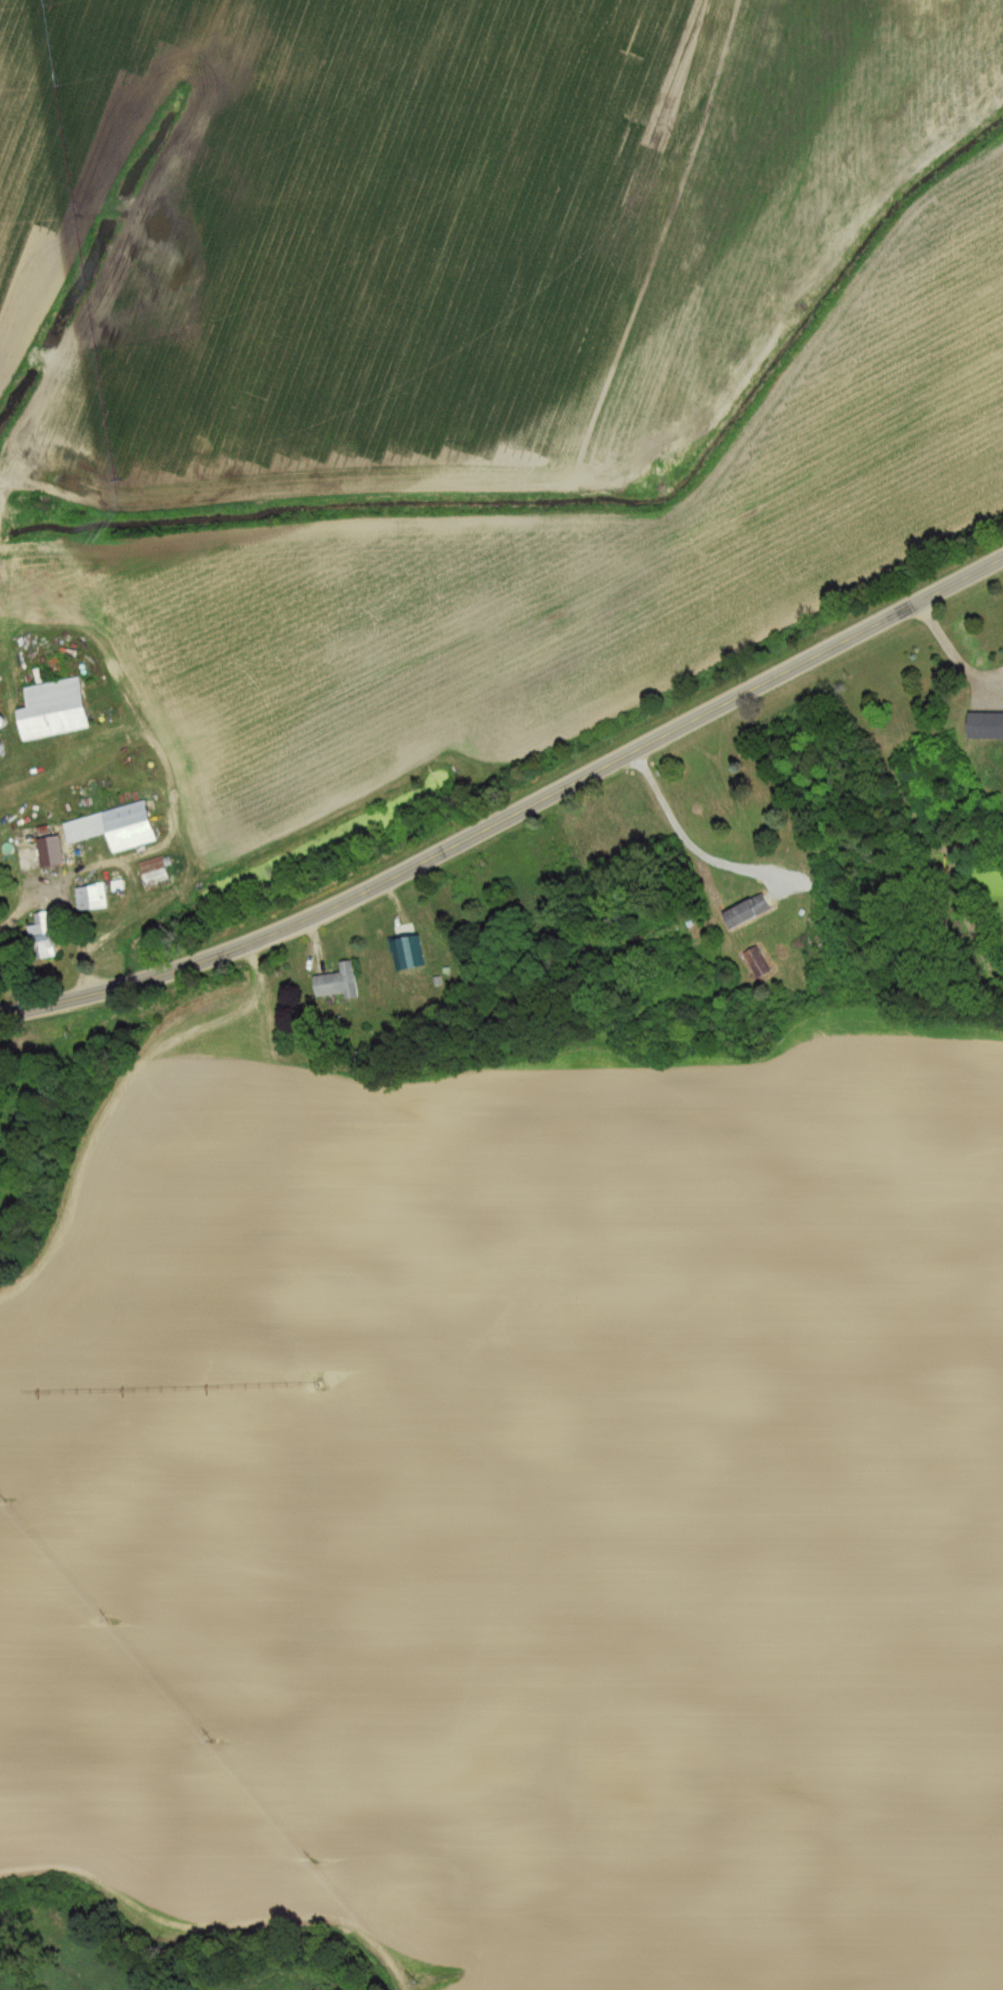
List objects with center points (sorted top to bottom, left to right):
building: (2, 686)
building: (48, 711)
building: (0, 749)
road: (511, 816)
building: (110, 829)
road: (683, 842)
building: (50, 854)
road: (125, 867)
building: (151, 873)
building: (88, 899)
building: (743, 913)
building: (35, 943)
building: (397, 957)
building: (753, 964)
building: (334, 984)

